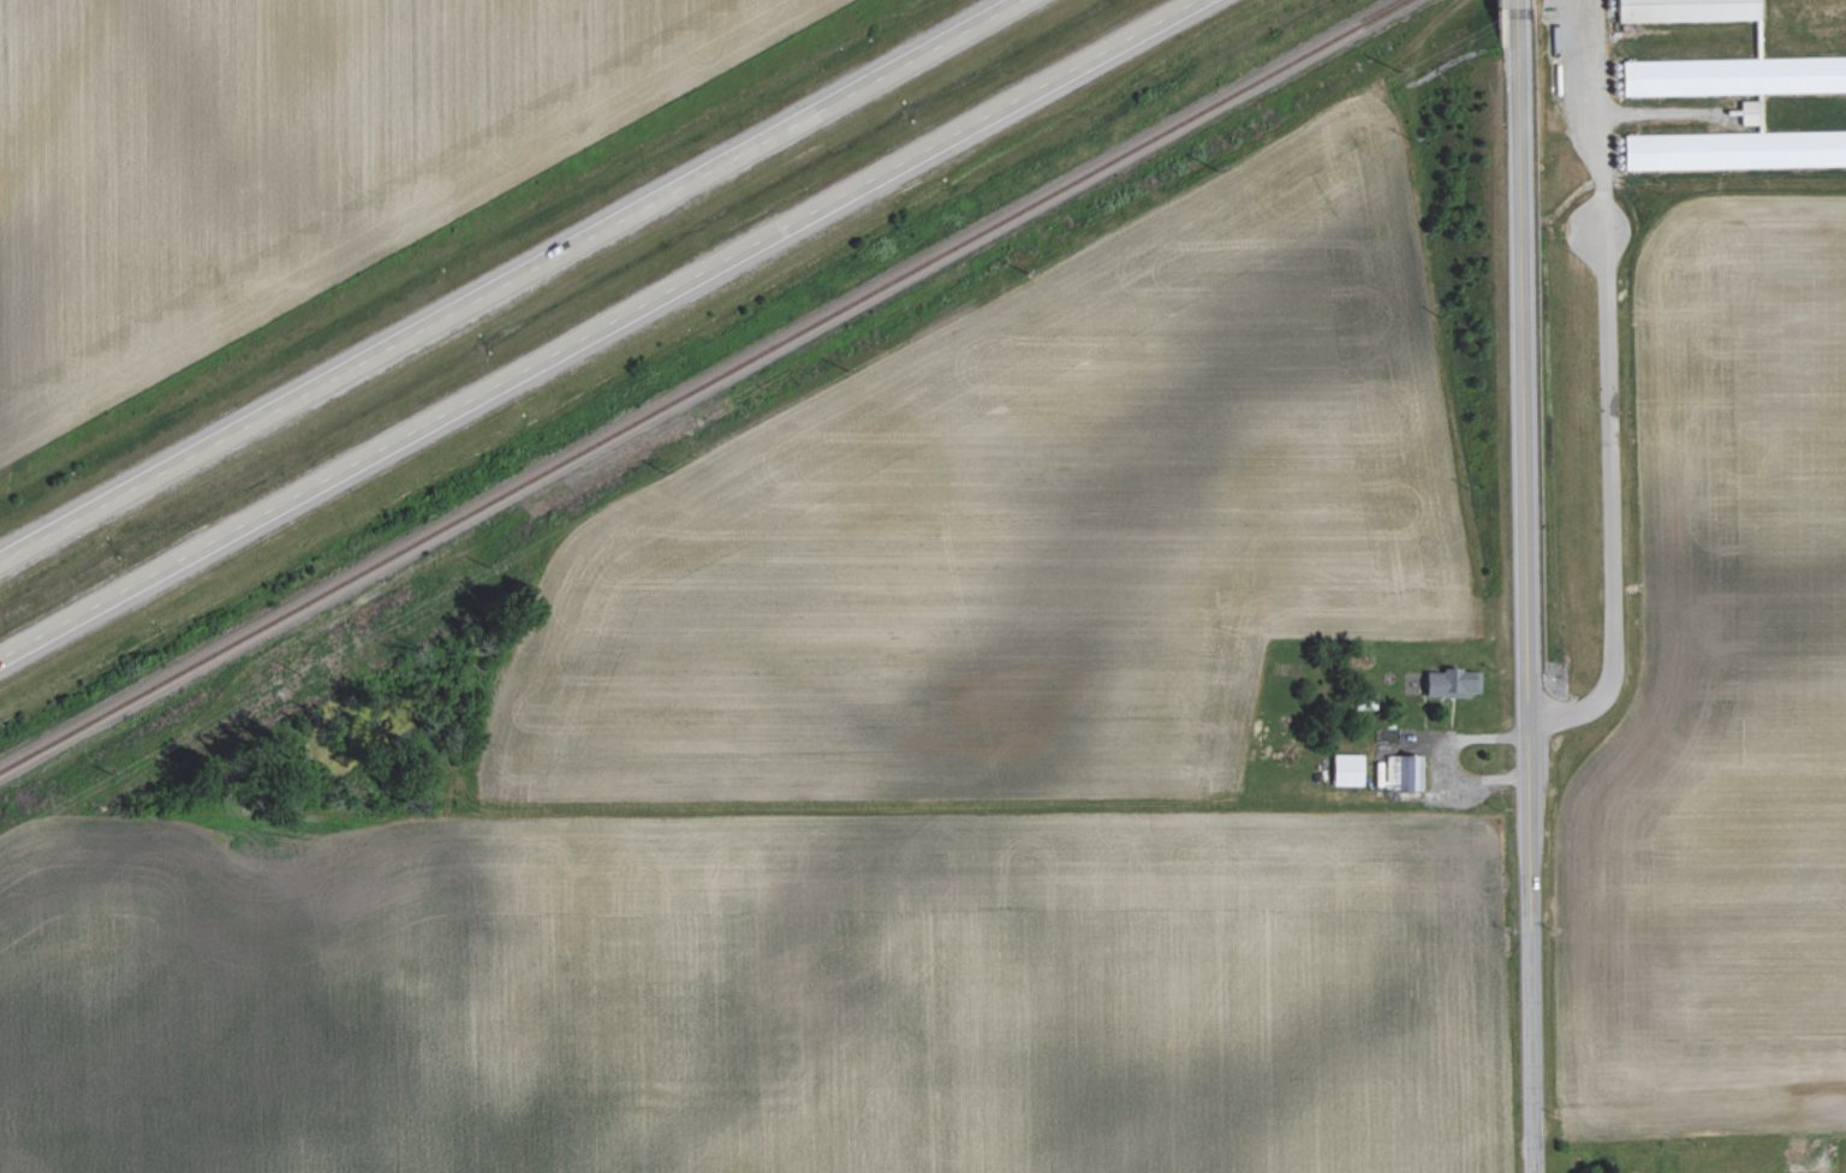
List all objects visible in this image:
building: (1686, 10)
building: (1749, 112)
road: (1595, 117)
building: (1737, 150)
road: (513, 281)
road: (600, 329)
railway: (705, 386)
road: (1607, 507)
road: (1525, 586)
building: (1455, 683)

